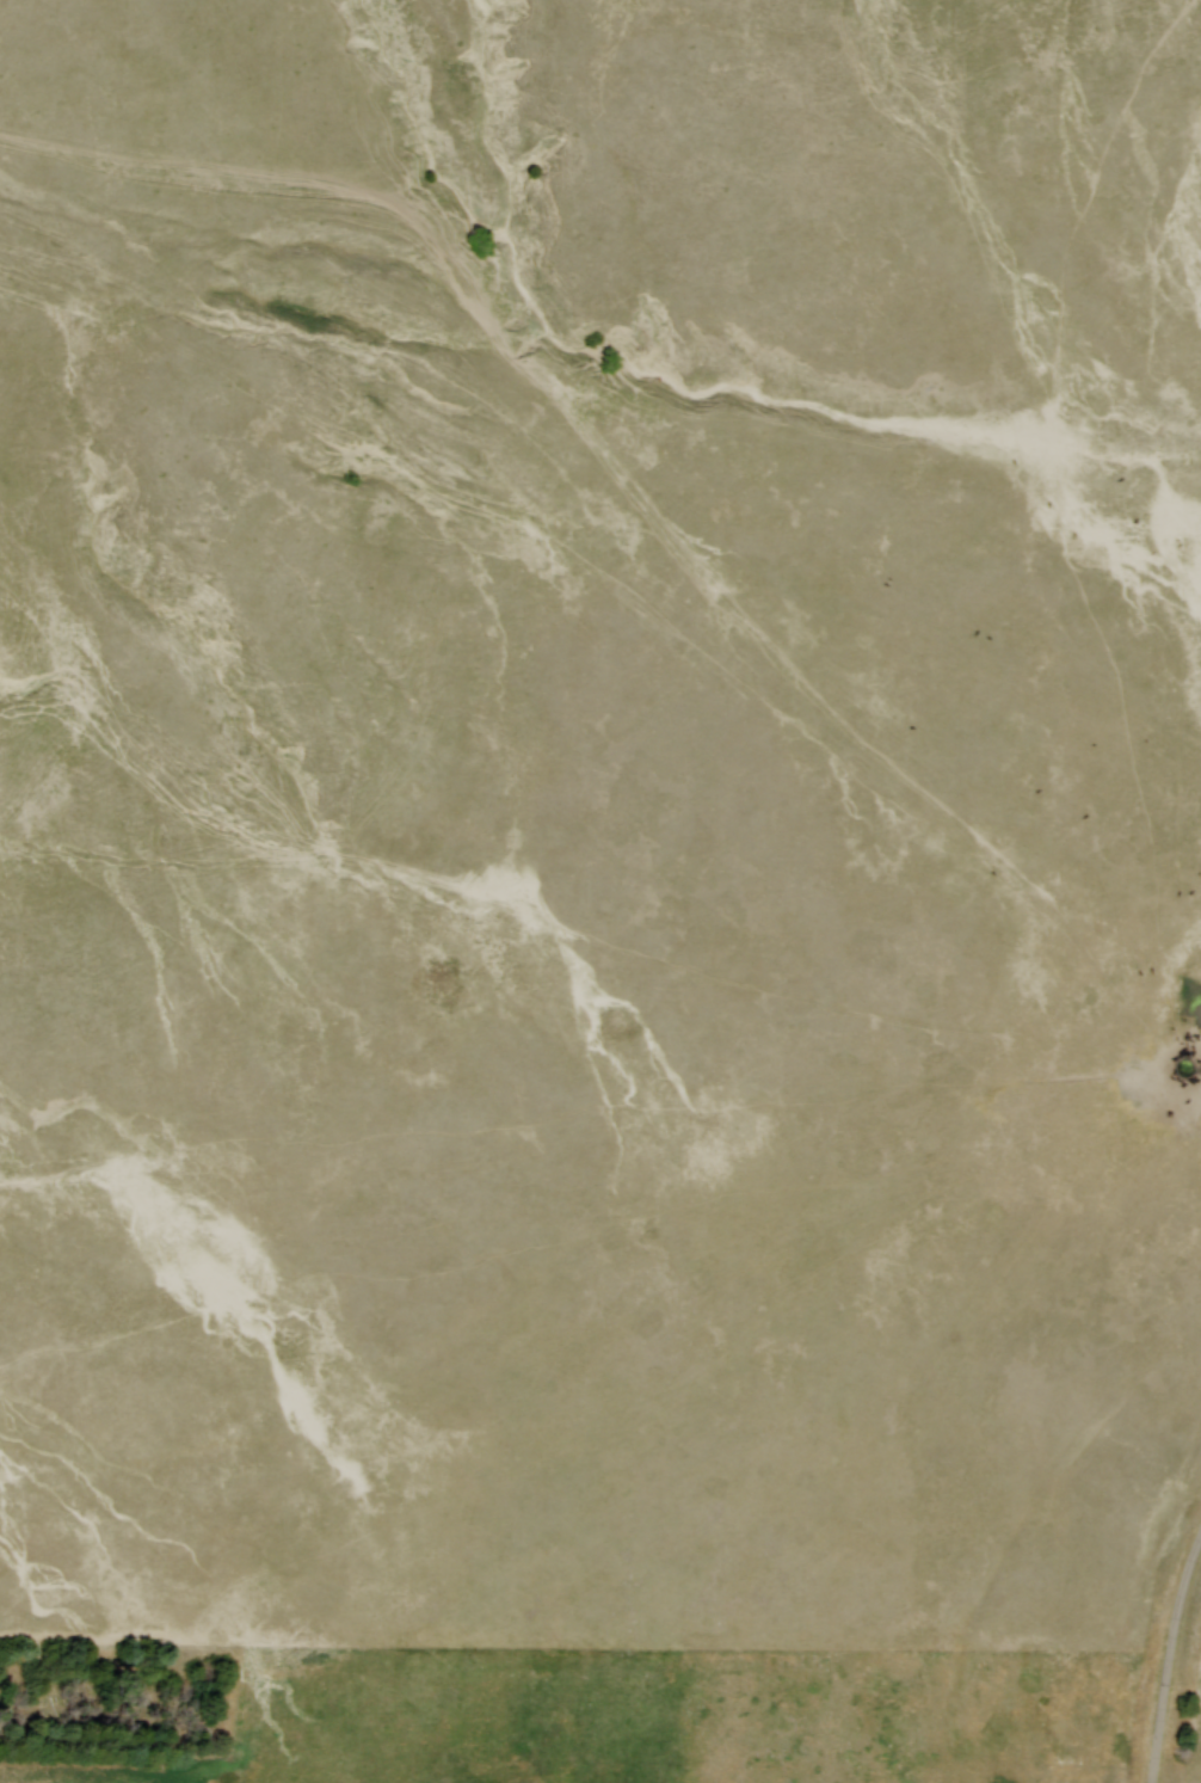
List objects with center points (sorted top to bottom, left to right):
road: (1168, 1654)

